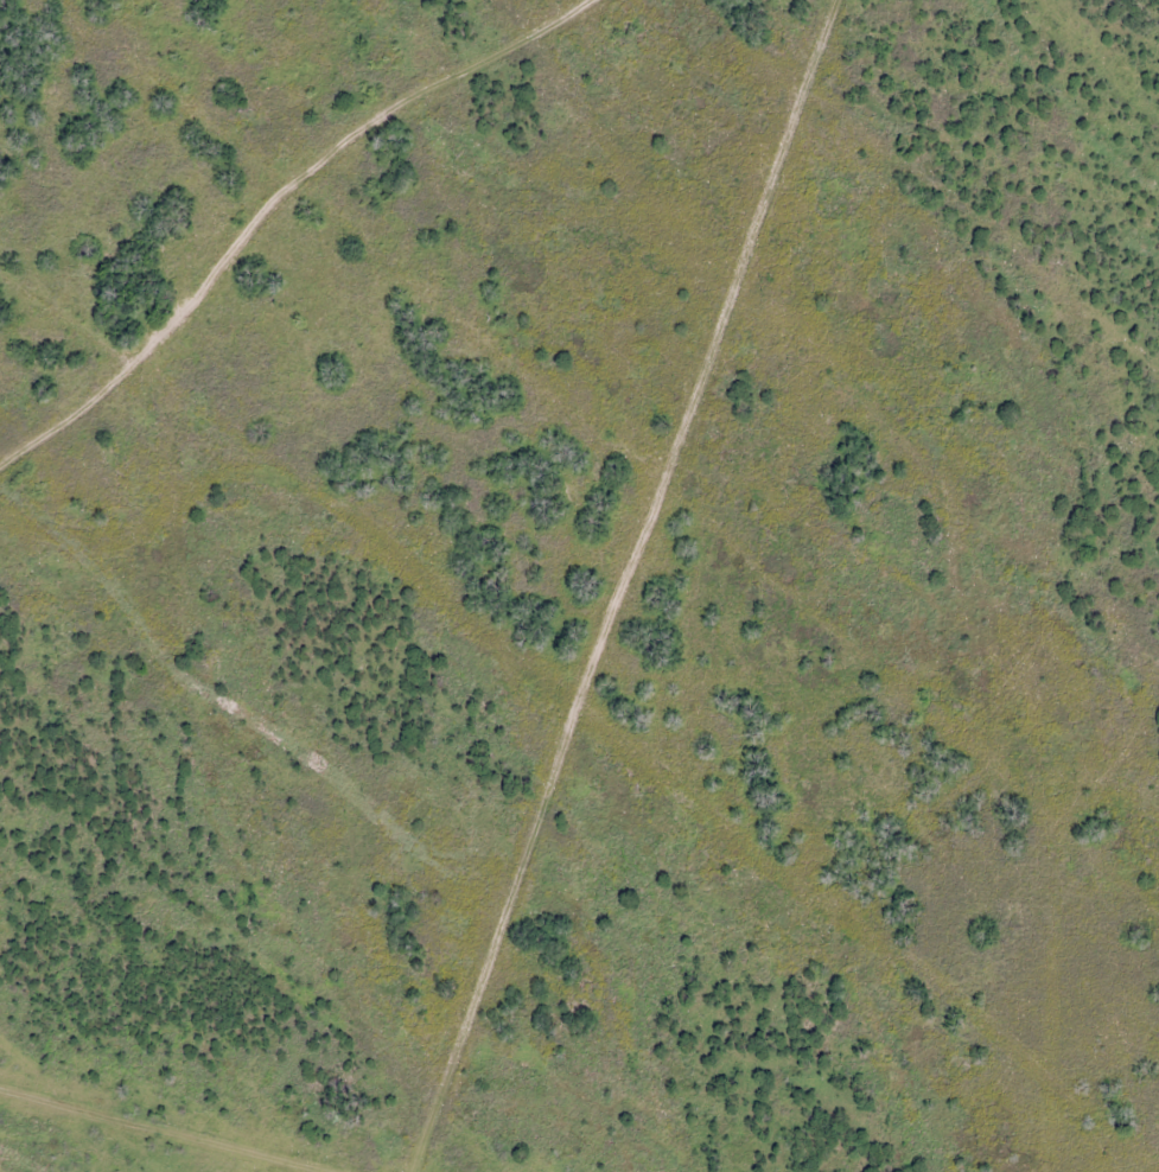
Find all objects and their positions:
road: (257, 211)

